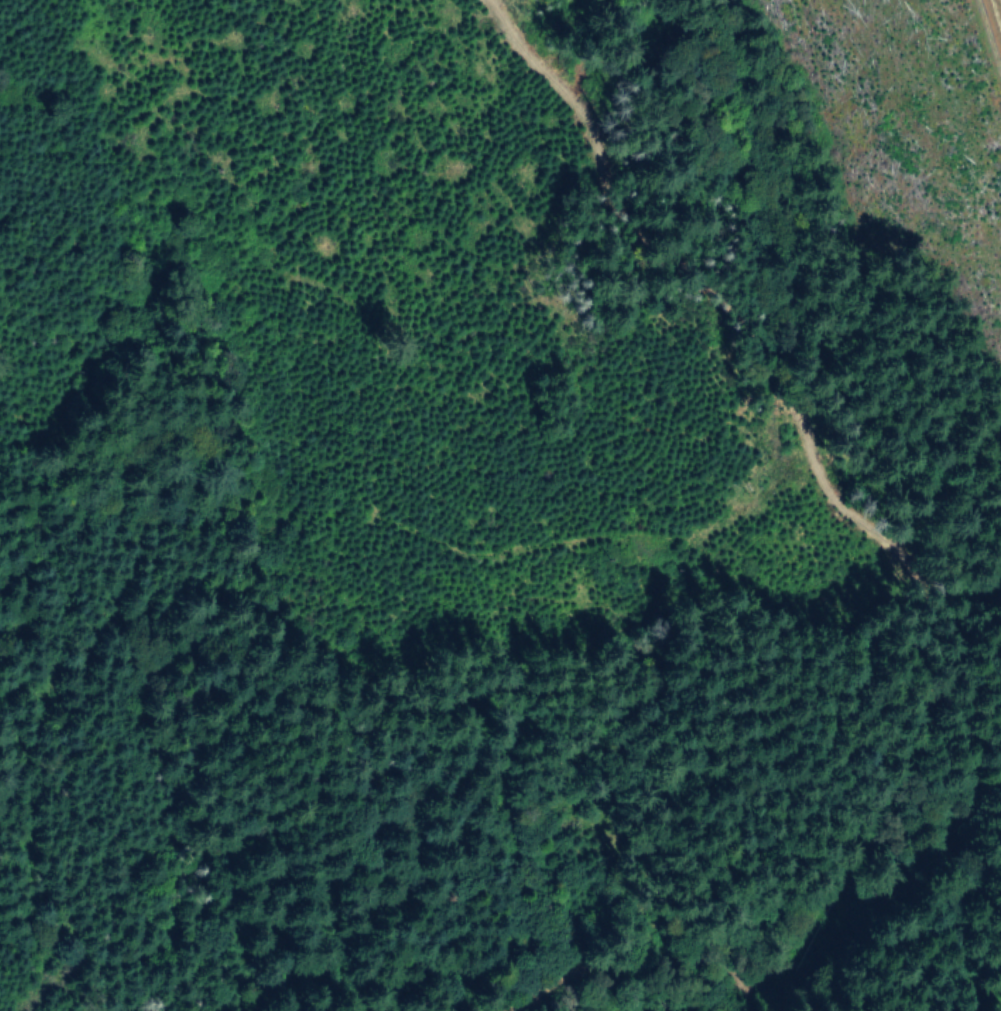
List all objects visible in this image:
crop: (987, 36)

